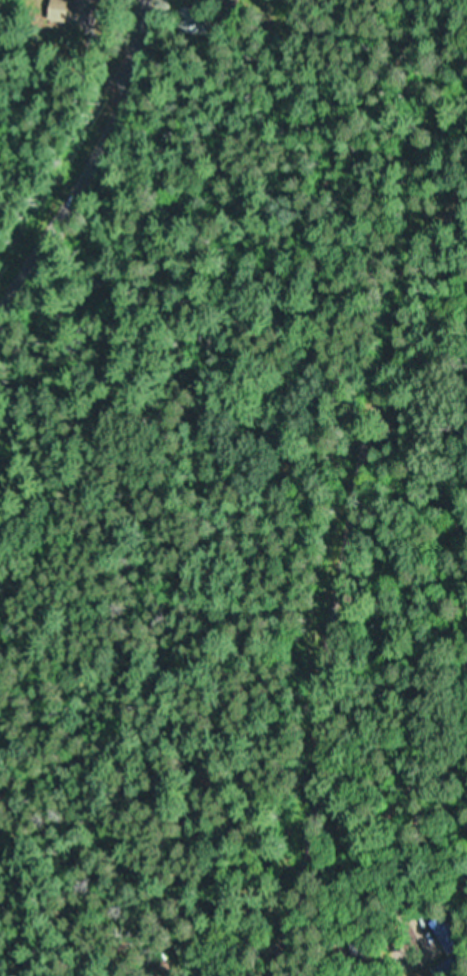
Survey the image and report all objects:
building: (79, 9)
road: (89, 159)
road: (303, 487)
road: (465, 630)
road: (407, 790)

